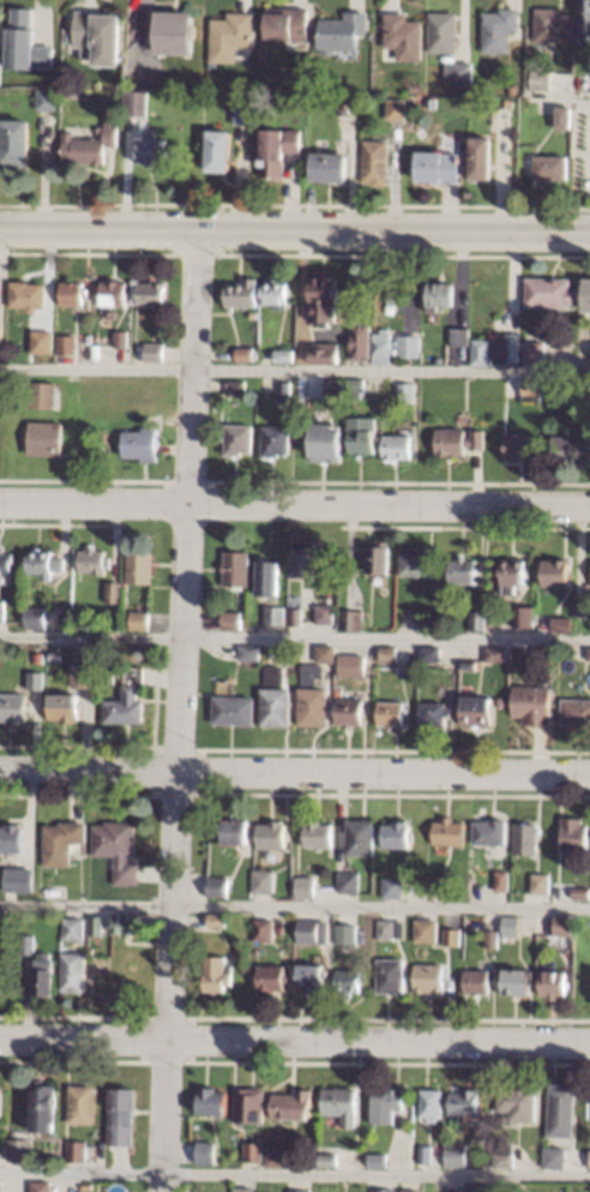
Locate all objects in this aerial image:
building: (583, 19)
building: (284, 23)
building: (550, 25)
building: (496, 30)
building: (339, 31)
building: (439, 31)
building: (170, 32)
building: (227, 35)
building: (401, 36)
building: (96, 37)
building: (22, 43)
building: (205, 65)
building: (454, 71)
building: (537, 79)
building: (282, 85)
building: (413, 86)
building: (511, 89)
road: (560, 97)
building: (44, 98)
building: (314, 100)
building: (429, 103)
building: (128, 104)
building: (393, 109)
building: (241, 113)
building: (560, 118)
building: (13, 140)
building: (85, 146)
building: (147, 150)
building: (216, 150)
building: (273, 150)
building: (478, 157)
building: (372, 162)
building: (326, 167)
building: (435, 167)
building: (546, 167)
road: (294, 228)
building: (74, 293)
building: (114, 293)
building: (150, 293)
building: (276, 293)
building: (550, 293)
building: (242, 294)
building: (442, 294)
building: (29, 295)
building: (588, 295)
building: (323, 298)
building: (401, 300)
building: (391, 307)
building: (255, 313)
building: (0, 329)
building: (460, 337)
building: (122, 339)
building: (43, 342)
building: (361, 342)
building: (67, 343)
building: (409, 346)
building: (383, 347)
building: (496, 349)
building: (155, 352)
building: (535, 352)
building: (246, 353)
building: (326, 353)
building: (284, 354)
road: (294, 371)
building: (236, 388)
building: (356, 388)
building: (335, 389)
building: (532, 390)
building: (285, 393)
building: (407, 393)
building: (42, 395)
building: (362, 436)
building: (46, 437)
building: (240, 438)
building: (327, 439)
building: (277, 441)
building: (458, 441)
building: (142, 442)
building: (520, 445)
building: (398, 447)
building: (571, 449)
road: (294, 503)
building: (380, 558)
building: (6, 561)
building: (94, 561)
building: (303, 562)
building: (44, 563)
building: (417, 564)
building: (140, 567)
building: (237, 568)
building: (463, 570)
building: (558, 573)
building: (513, 575)
building: (269, 577)
building: (114, 592)
building: (583, 606)
building: (2, 610)
building: (275, 615)
building: (325, 615)
building: (36, 616)
building: (525, 616)
building: (296, 617)
building: (140, 619)
building: (231, 619)
building: (353, 619)
building: (478, 621)
building: (425, 623)
building: (562, 624)
road: (294, 639)
building: (348, 652)
building: (249, 653)
building: (326, 653)
building: (389, 653)
building: (432, 653)
building: (498, 654)
building: (55, 655)
building: (589, 655)
building: (347, 665)
building: (74, 676)
building: (37, 679)
building: (313, 696)
building: (276, 697)
building: (127, 699)
building: (502, 700)
building: (71, 703)
building: (534, 705)
building: (14, 707)
road: (176, 709)
building: (234, 709)
building: (478, 711)
building: (350, 712)
building: (392, 713)
building: (576, 713)
building: (434, 714)
road: (294, 772)
building: (235, 831)
building: (489, 831)
building: (450, 832)
building: (272, 834)
building: (318, 834)
building: (574, 834)
building: (397, 835)
building: (361, 837)
building: (526, 839)
building: (17, 841)
building: (62, 841)
building: (119, 849)
building: (16, 879)
building: (501, 881)
building: (264, 882)
building: (349, 882)
building: (541, 883)
building: (440, 885)
building: (218, 887)
building: (305, 887)
building: (393, 887)
building: (241, 892)
building: (582, 893)
road: (294, 908)
building: (217, 920)
building: (127, 923)
building: (97, 926)
building: (511, 926)
building: (564, 926)
building: (6, 927)
building: (74, 928)
building: (391, 928)
building: (263, 929)
building: (312, 930)
building: (426, 932)
building: (348, 933)
building: (453, 936)
building: (492, 938)
building: (30, 944)
building: (76, 972)
building: (218, 974)
building: (46, 975)
building: (311, 976)
building: (390, 976)
building: (271, 980)
building: (429, 980)
building: (517, 981)
building: (348, 982)
building: (476, 982)
building: (554, 983)
road: (294, 1040)
building: (212, 1101)
building: (465, 1102)
building: (83, 1103)
building: (1, 1104)
building: (294, 1104)
building: (342, 1104)
building: (387, 1104)
building: (432, 1104)
building: (518, 1104)
building: (249, 1106)
building: (46, 1108)
building: (562, 1109)
building: (122, 1116)
building: (20, 1149)
building: (77, 1150)
building: (253, 1151)
building: (207, 1152)
building: (426, 1154)
building: (456, 1154)
building: (554, 1157)
building: (277, 1158)
building: (588, 1158)
building: (327, 1160)
building: (379, 1160)
building: (504, 1161)
road: (294, 1175)
building: (1, 1186)
building: (43, 1186)
building: (88, 1186)
building: (477, 1187)
building: (243, 1188)
building: (386, 1190)
building: (454, 1190)
building: (300, 1191)
building: (410, 1191)

